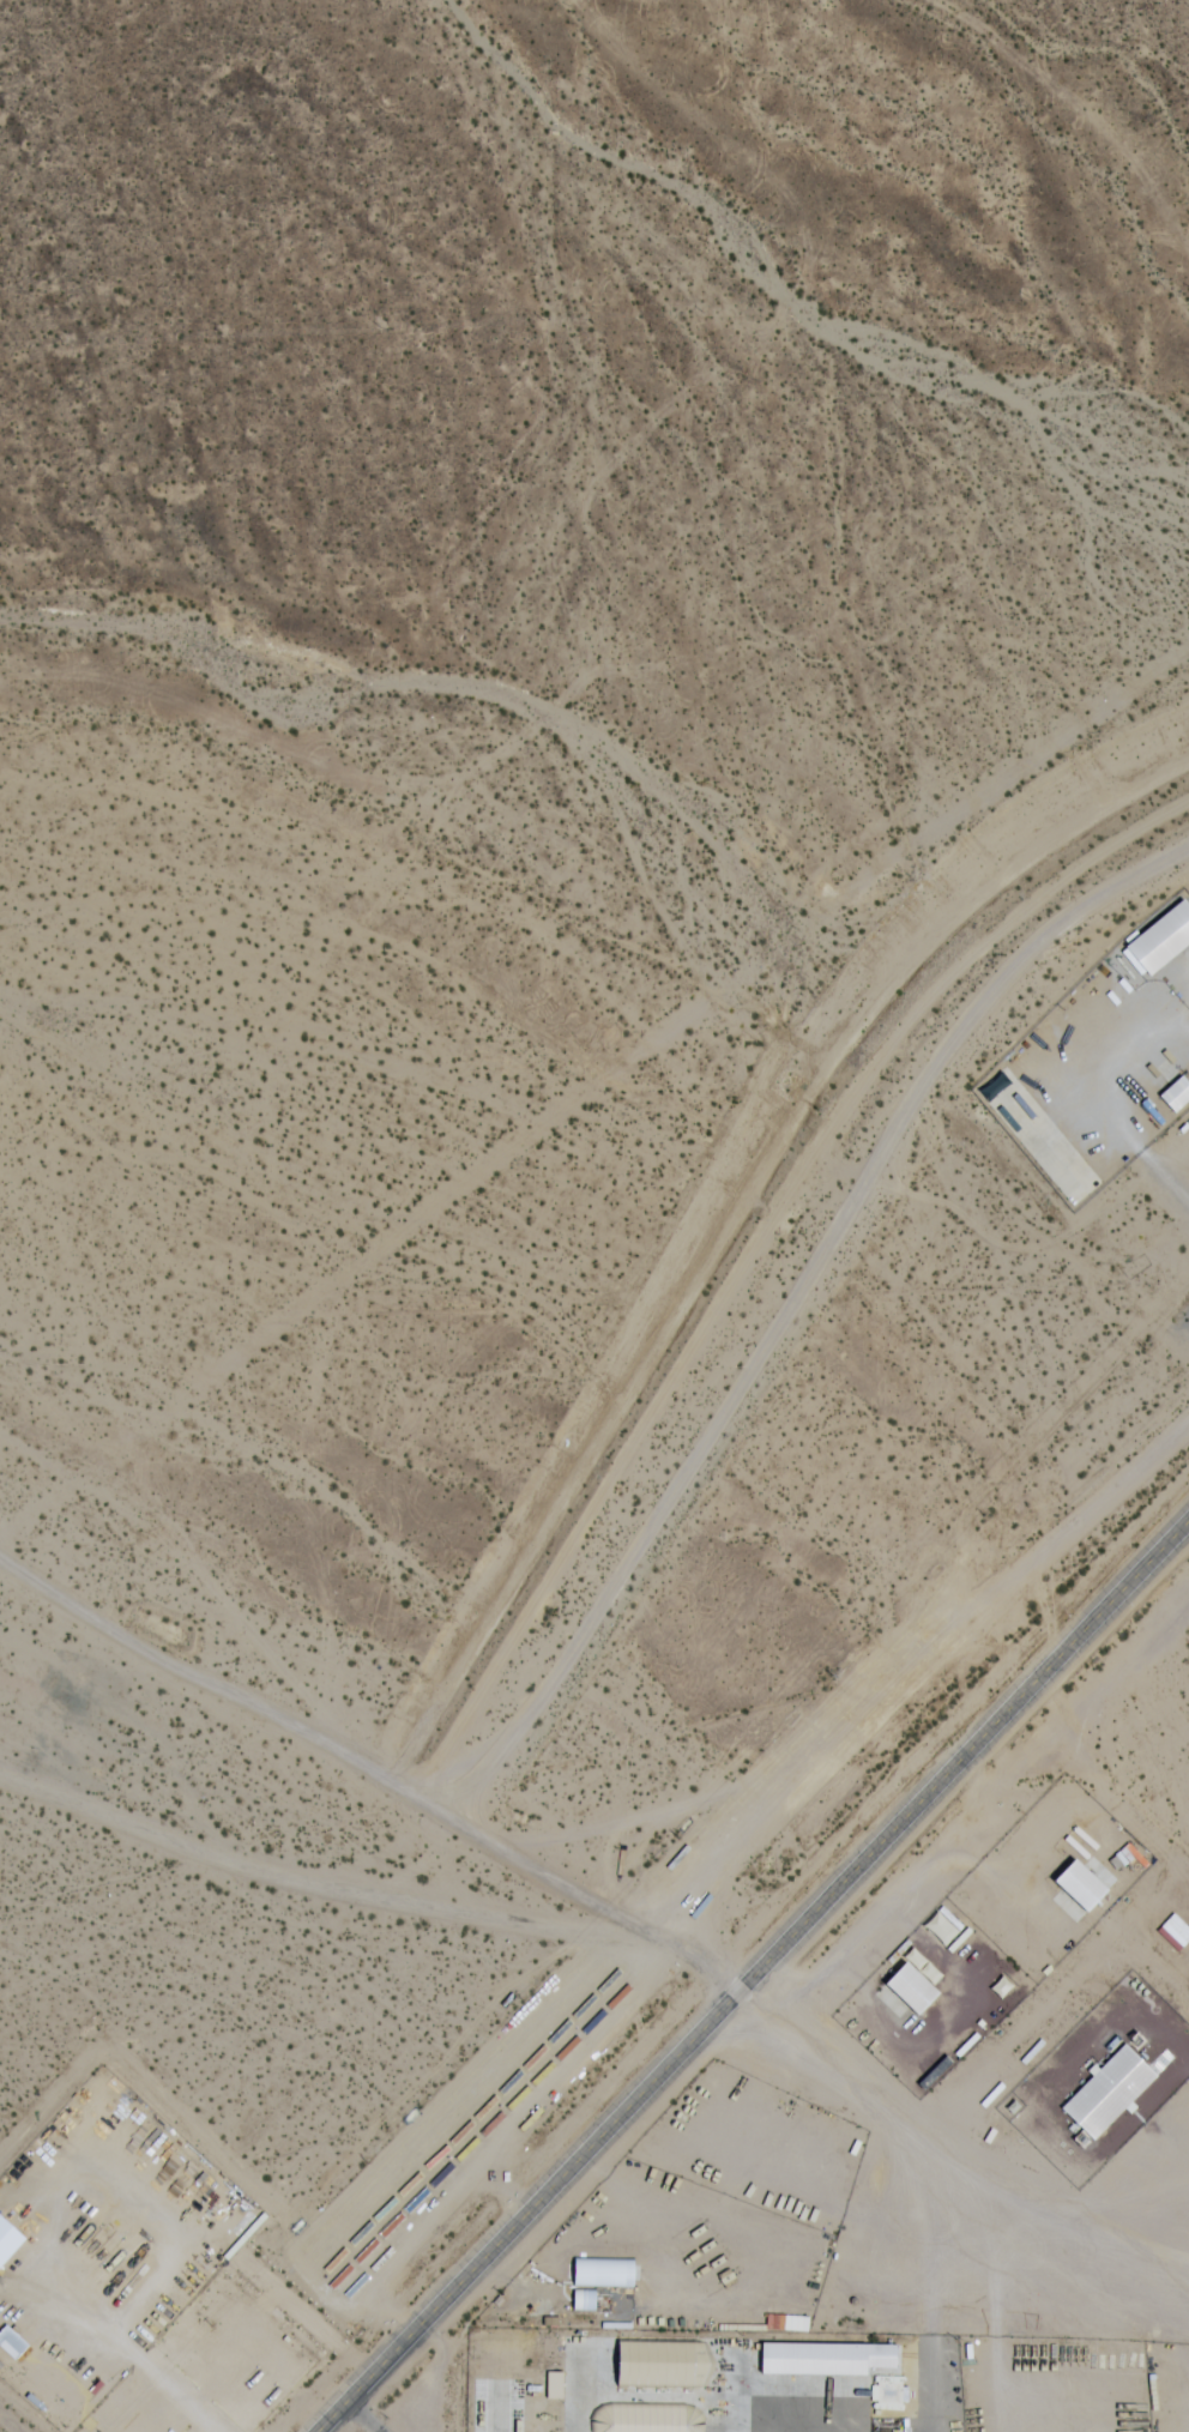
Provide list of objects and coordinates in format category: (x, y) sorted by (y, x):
building: (1163, 940)
building: (1177, 1094)
road: (1165, 1178)
road: (370, 1769)
road: (324, 1885)
building: (1082, 1885)
building: (940, 1929)
building: (898, 1951)
building: (931, 1972)
road: (750, 1974)
building: (913, 1987)
building: (1140, 1998)
building: (1110, 2092)
building: (8, 2240)
building: (605, 2274)
building: (584, 2301)
road: (304, 2316)
building: (12, 2345)
building: (828, 2359)
building: (624, 2361)
building: (1158, 2377)
building: (64, 2389)
building: (555, 2391)
building: (889, 2392)
building: (527, 2401)
road: (358, 2418)
building: (647, 2419)
building: (559, 2425)

